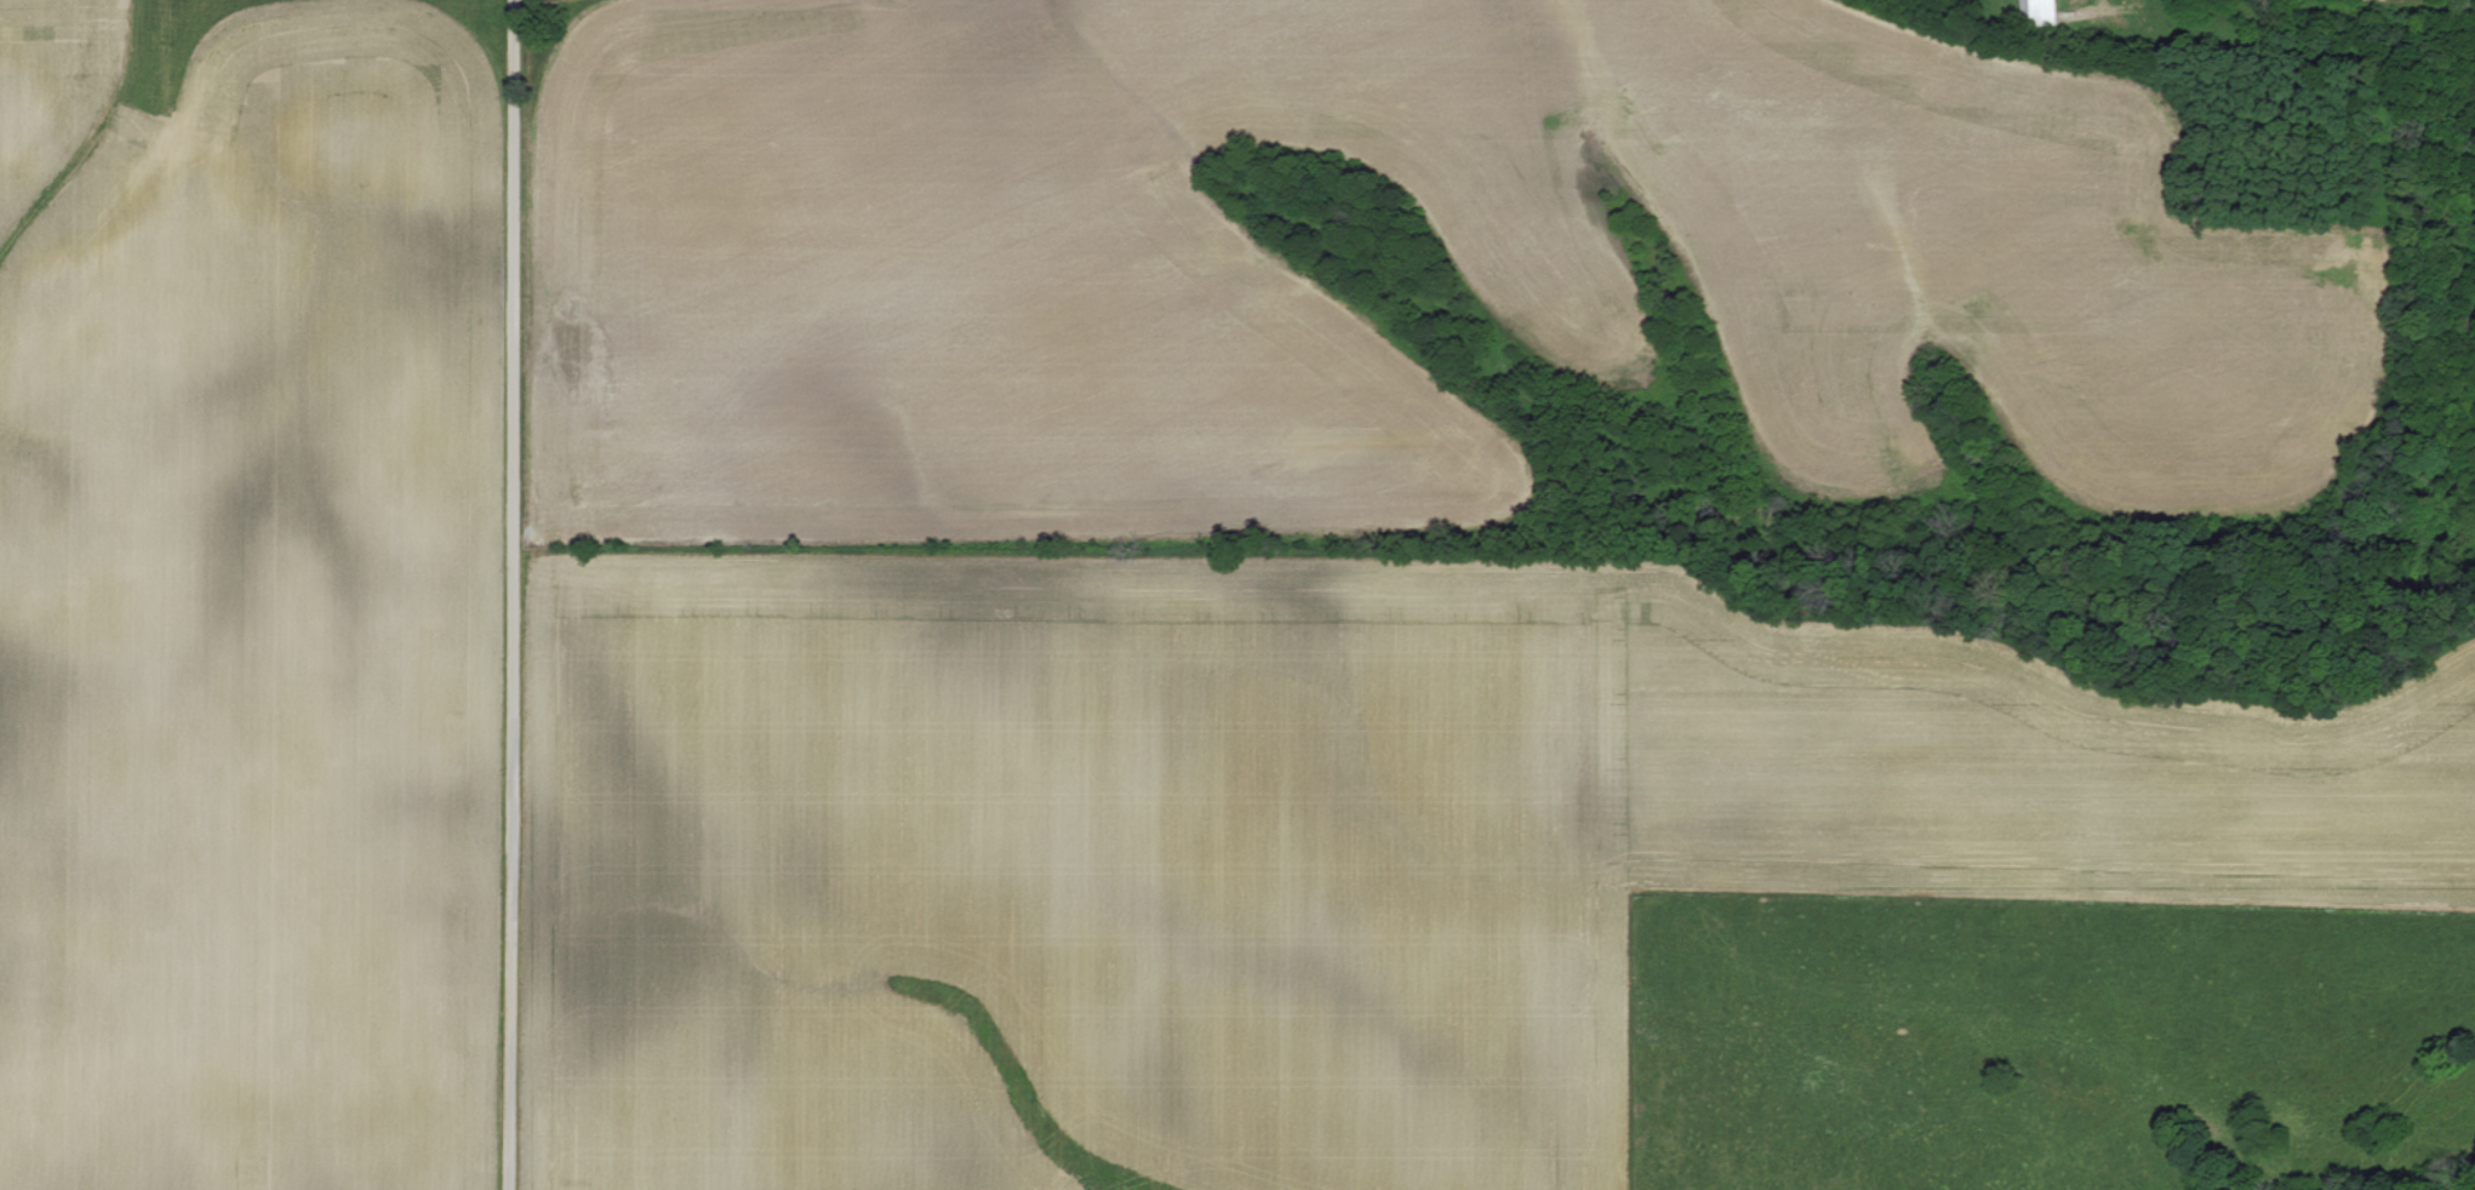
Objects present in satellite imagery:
building: (2042, 11)
road: (509, 595)

